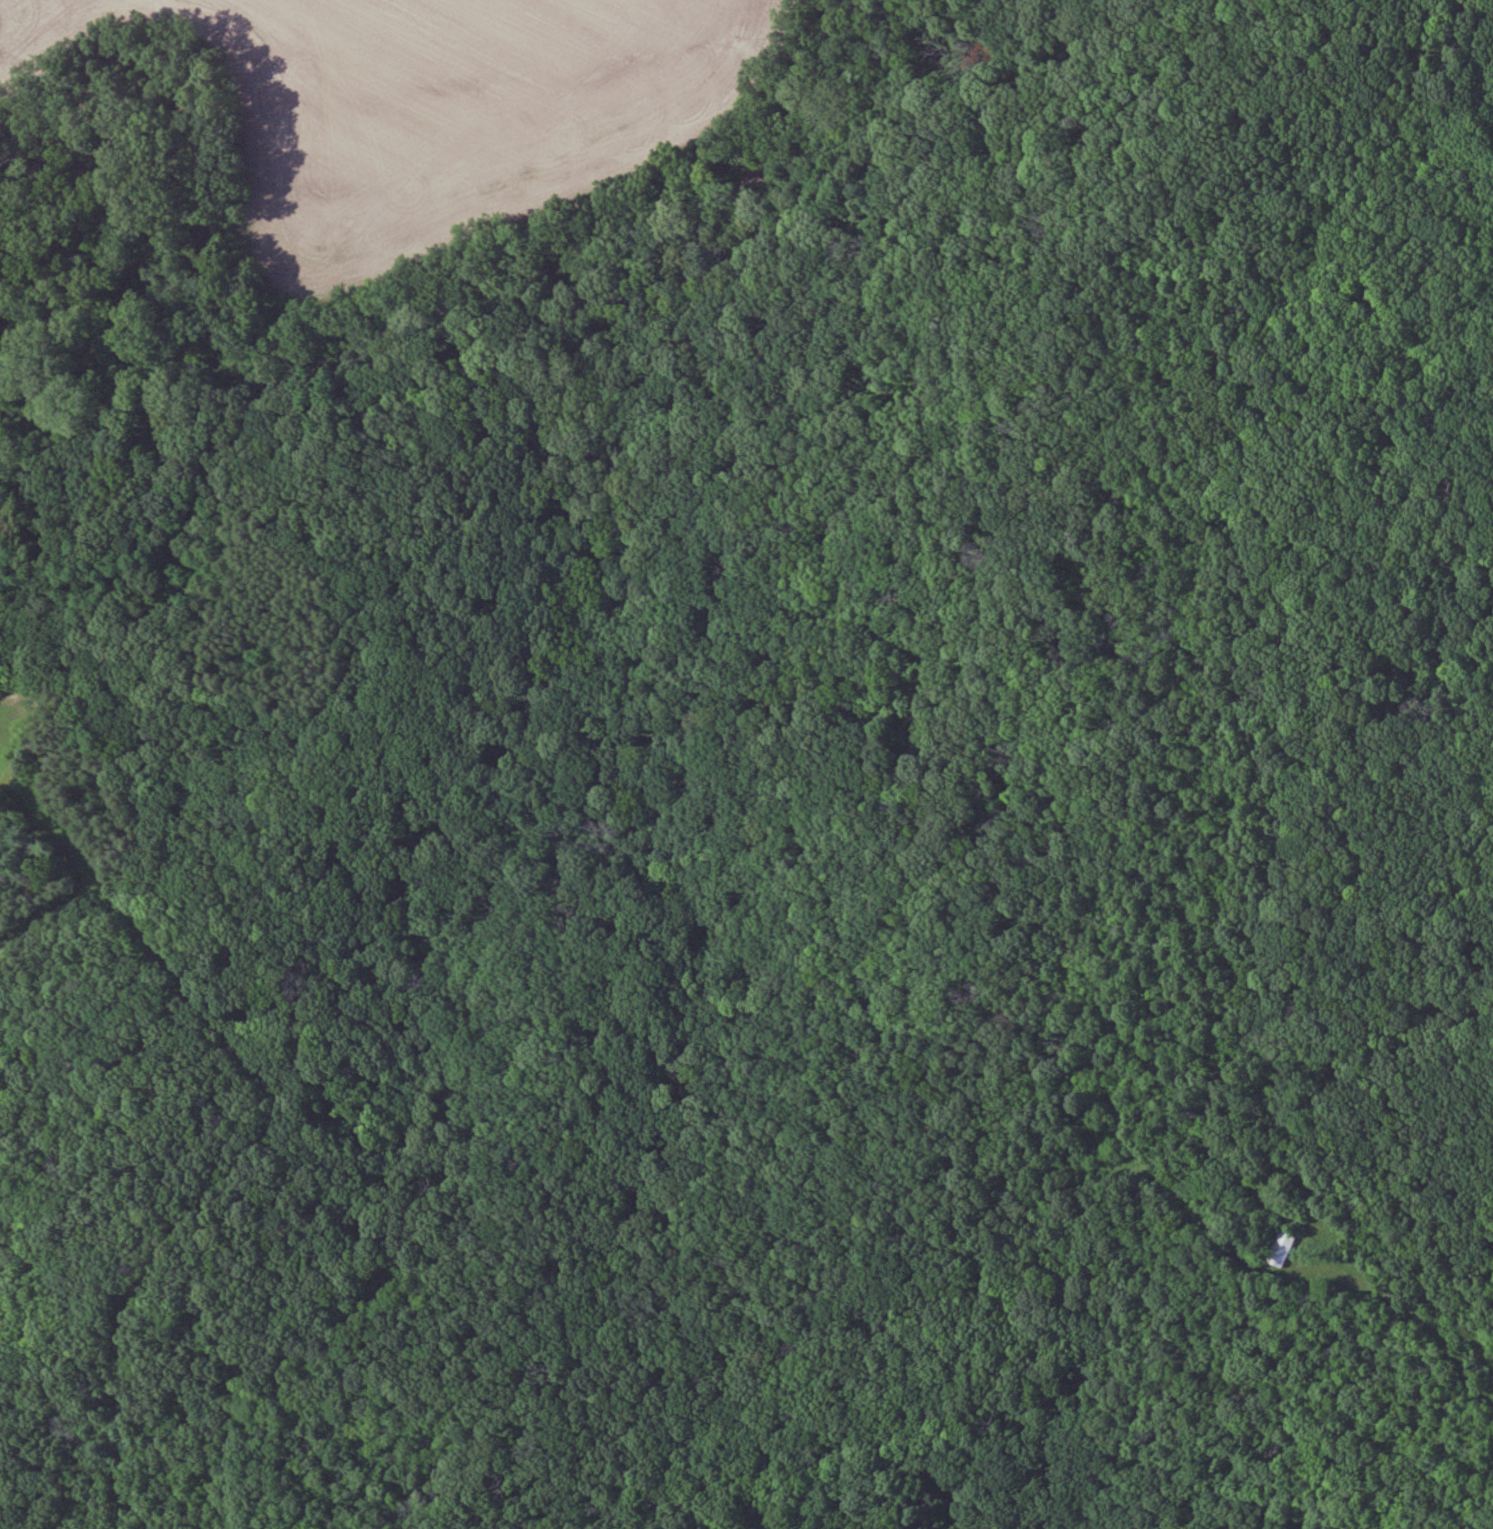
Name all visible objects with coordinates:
crop: (435, 107)
road: (472, 337)
park: (746, 764)
road: (820, 828)
building: (1282, 1249)

